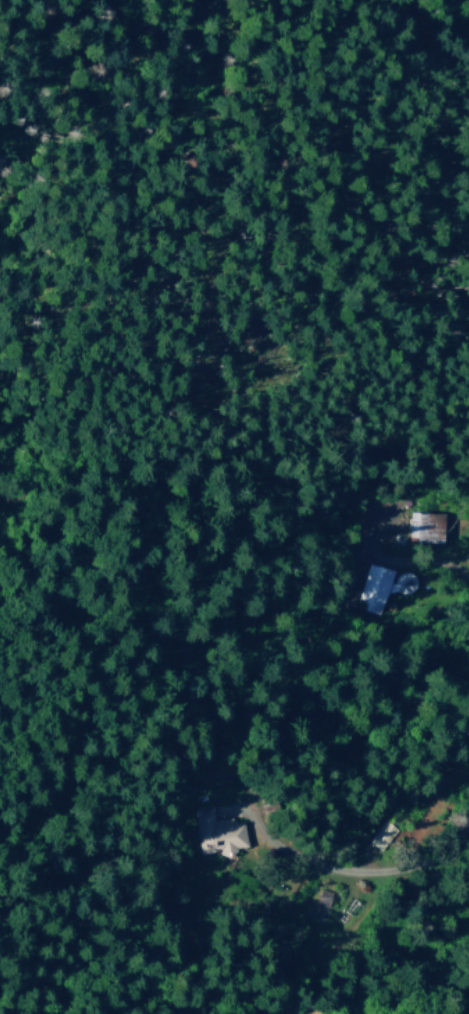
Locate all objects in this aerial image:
building: (422, 526)
building: (214, 831)
building: (380, 835)
road: (376, 873)

